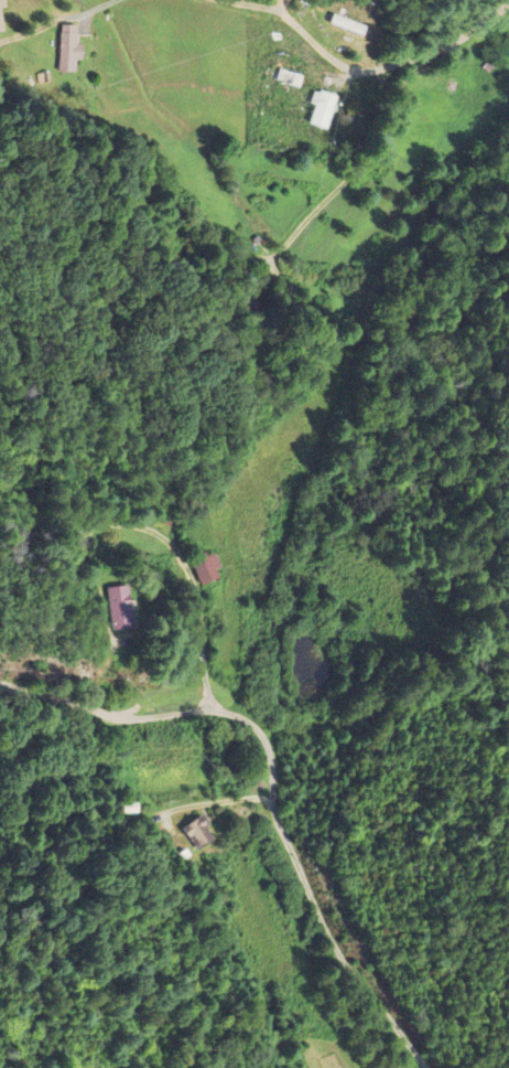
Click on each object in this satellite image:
building: (0, 3)
building: (0, 26)
building: (68, 50)
road: (416, 96)
building: (321, 109)
building: (205, 569)
building: (119, 609)
building: (197, 833)
road: (360, 844)

